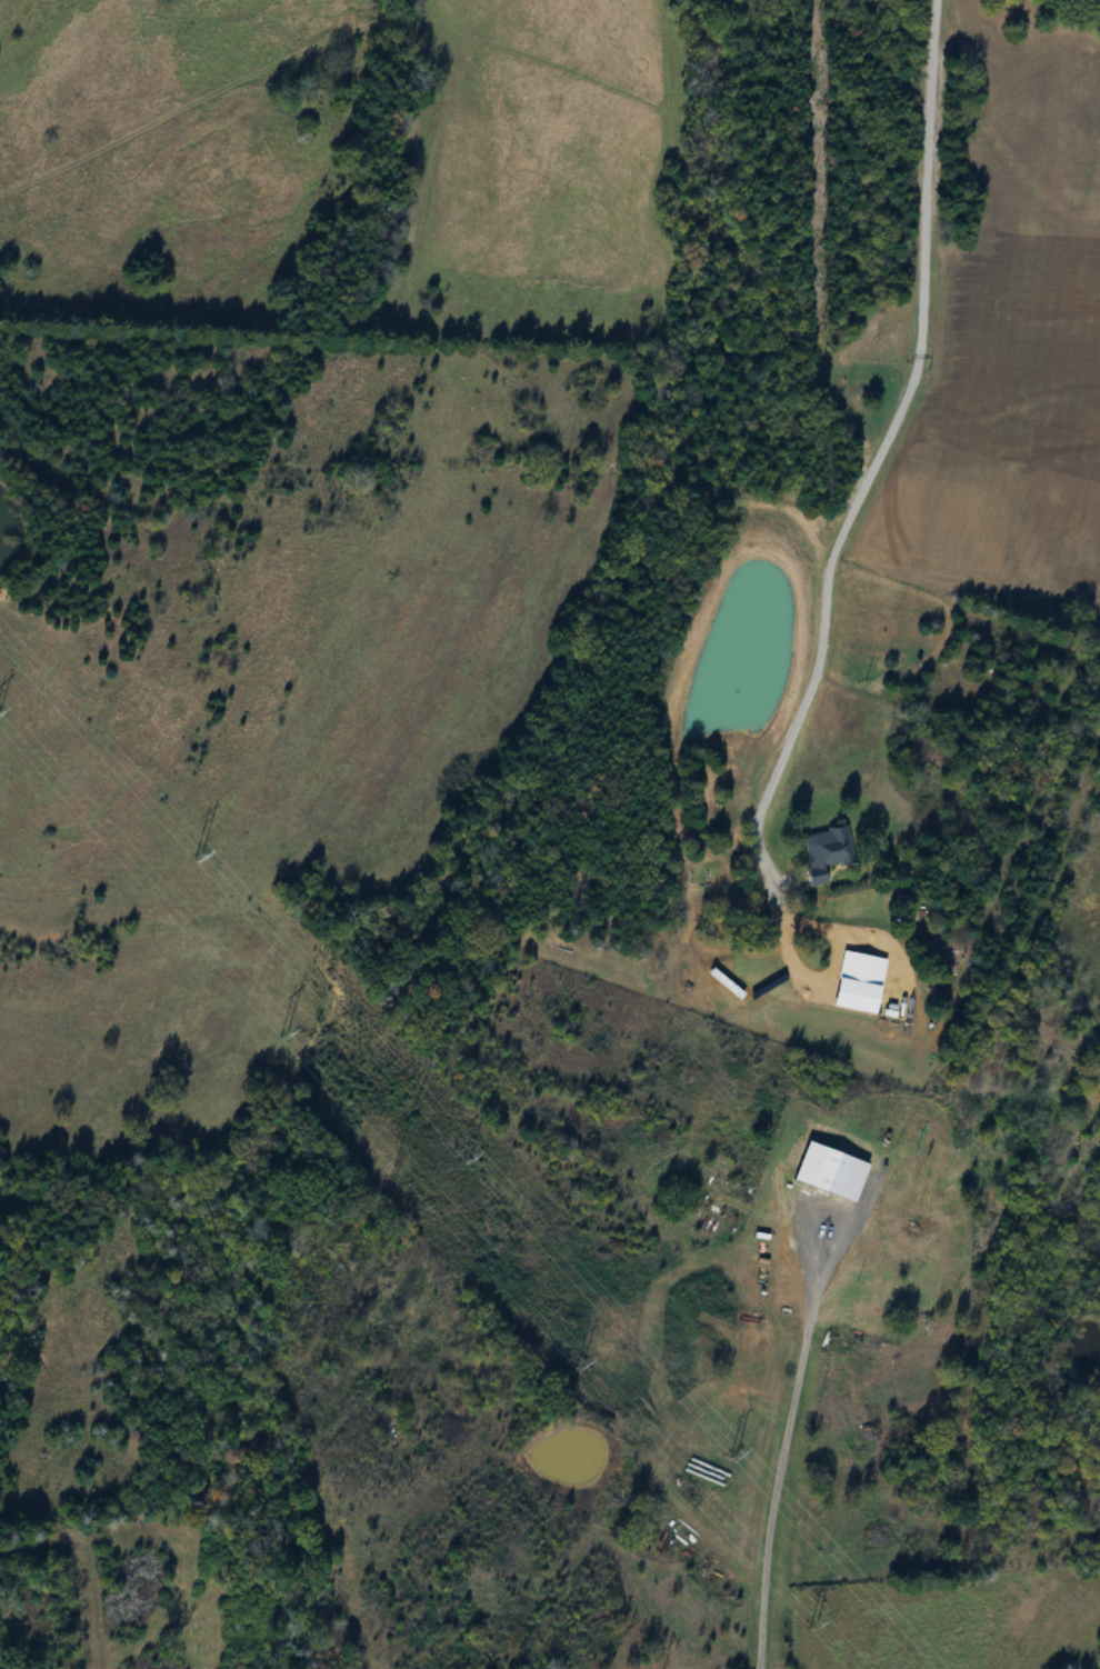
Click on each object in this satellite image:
road: (891, 439)
building: (821, 852)
power tower: (173, 858)
building: (863, 970)
power tower: (259, 1027)
power tower: (448, 1153)
building: (829, 1171)
power tower: (713, 1452)
road: (783, 1455)
power tower: (794, 1621)

